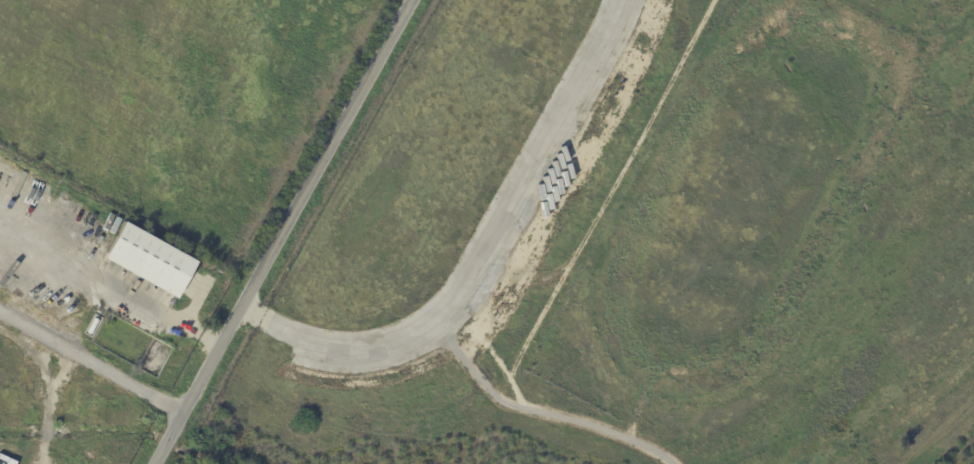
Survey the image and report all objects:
building: (92, 226)
road: (282, 232)
building: (106, 240)
road: (483, 251)
building: (127, 266)
building: (146, 280)
building: (162, 286)
road: (109, 291)
road: (91, 361)
road: (49, 405)
road: (537, 411)

